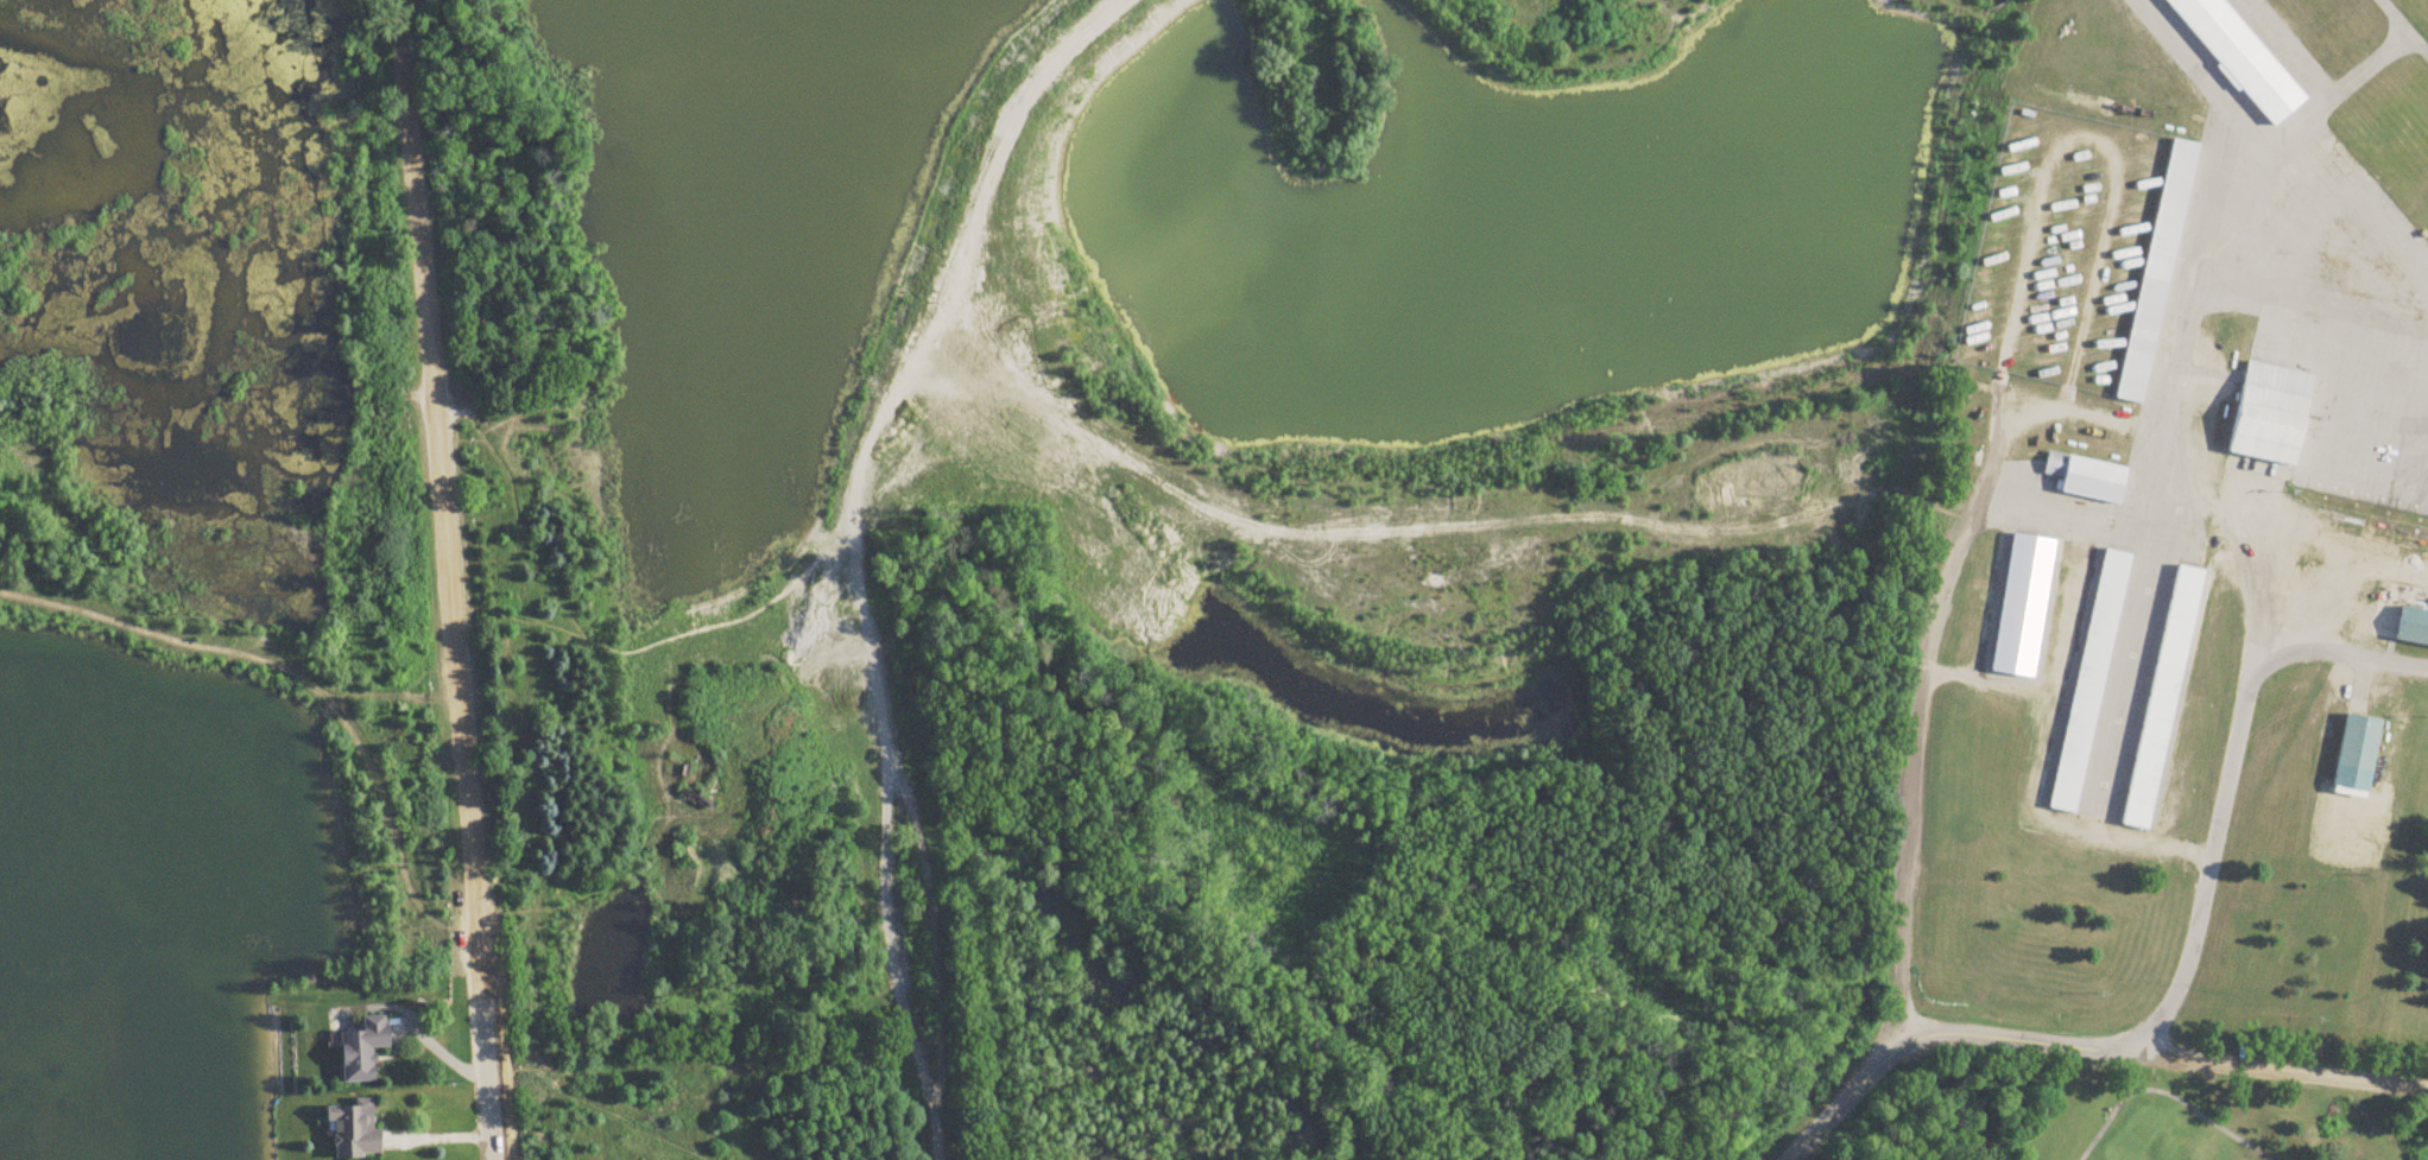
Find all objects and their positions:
road: (1534, 11)
airport taxiway: (2407, 24)
airport hangar: (2239, 57)
building: (2239, 57)
airport taxiway: (2334, 87)
road: (2089, 145)
airport apron: (2299, 264)
airport hangar: (2156, 274)
building: (2156, 274)
road: (900, 370)
road: (2031, 401)
airport hangar: (2270, 416)
building: (2270, 416)
airport hangar: (2084, 477)
building: (2084, 477)
road: (2301, 521)
road: (2340, 557)
road: (2247, 570)
road: (448, 579)
airport apron: (2123, 602)
road: (760, 604)
airport hangar: (2022, 607)
building: (2022, 607)
road: (2066, 613)
building: (2413, 627)
road: (736, 655)
airport hangar: (2089, 682)
building: (2089, 682)
airport hangar: (2162, 699)
building: (2162, 699)
road: (1918, 704)
building: (2357, 756)
road: (2225, 784)
road: (2032, 785)
road: (502, 912)
road: (894, 974)
road: (2076, 1047)
building: (362, 1050)
road: (508, 1071)
park: (2129, 1121)
building: (354, 1132)

